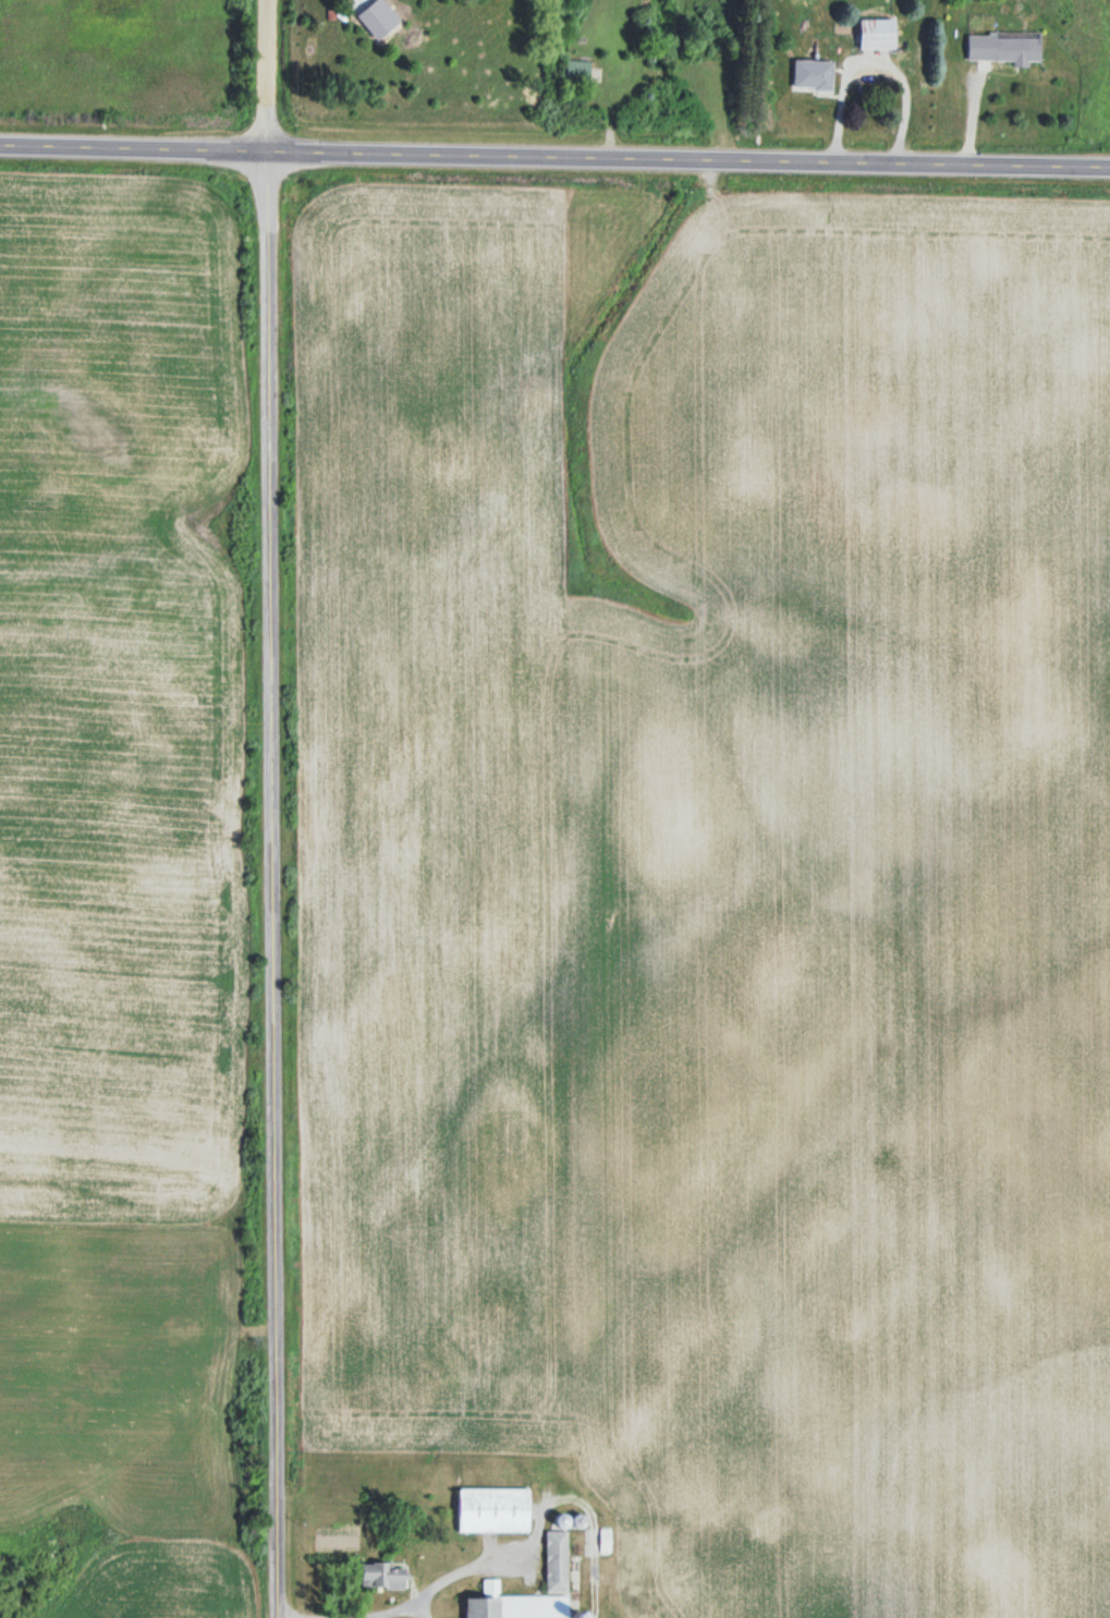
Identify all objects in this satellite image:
building: (874, 34)
building: (1001, 47)
building: (575, 71)
building: (810, 74)
road: (268, 76)
road: (134, 149)
road: (688, 153)
road: (264, 886)
building: (491, 1511)
building: (554, 1561)
building: (380, 1576)
building: (512, 1605)

